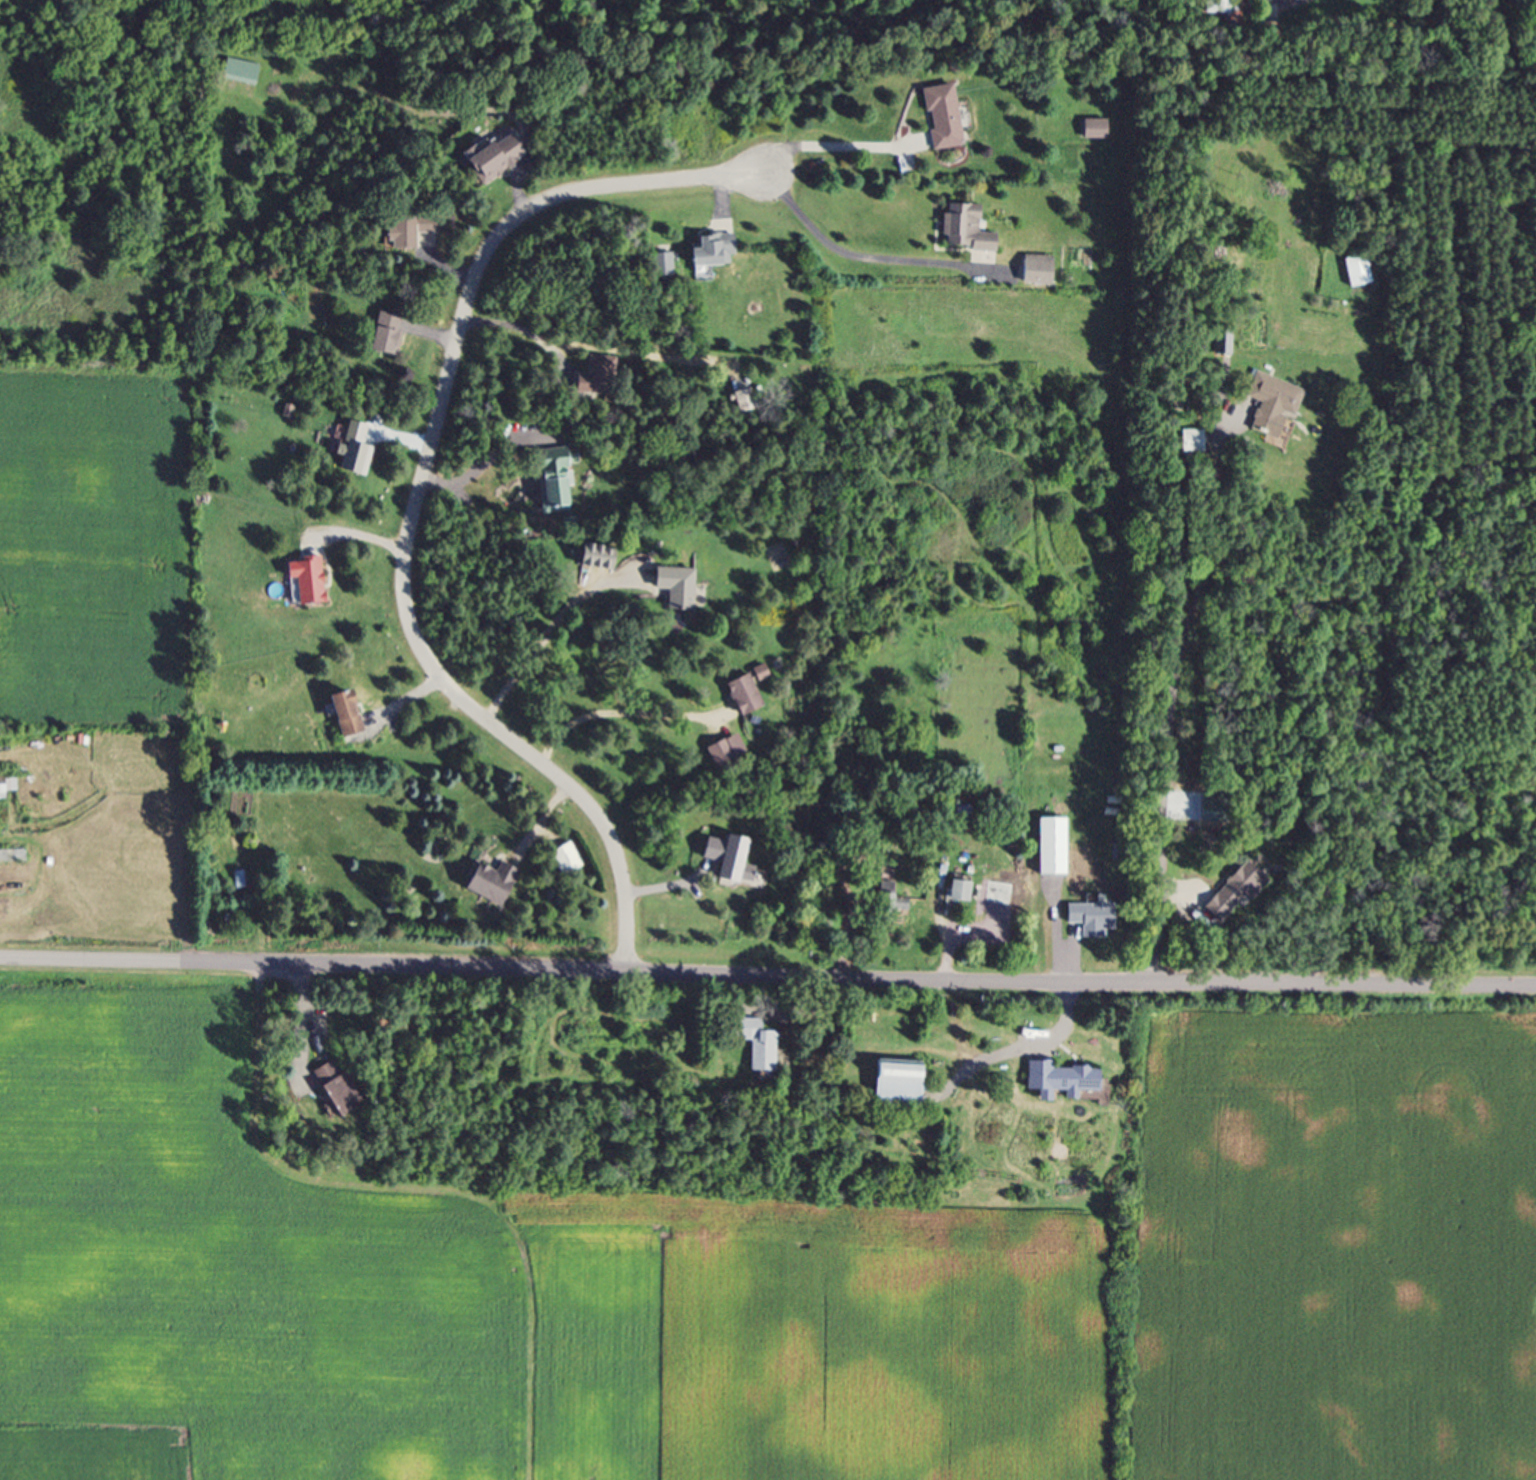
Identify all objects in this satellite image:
building: (1215, 8)
building: (941, 120)
building: (1095, 132)
road: (830, 146)
building: (493, 161)
building: (964, 232)
building: (402, 233)
building: (710, 254)
road: (862, 256)
building: (661, 268)
building: (1034, 272)
building: (1351, 274)
building: (382, 336)
building: (1218, 345)
road: (597, 347)
building: (593, 380)
building: (1266, 407)
building: (1190, 444)
building: (353, 453)
road: (484, 471)
building: (550, 483)
road: (420, 502)
road: (355, 536)
building: (304, 583)
building: (674, 590)
road: (551, 625)
building: (760, 677)
road: (1173, 688)
building: (741, 698)
building: (343, 717)
road: (619, 717)
building: (721, 755)
building: (10, 791)
building: (1052, 850)
building: (568, 863)
building: (727, 866)
building: (240, 882)
building: (491, 885)
building: (958, 892)
building: (1229, 896)
building: (890, 899)
building: (1091, 918)
road: (767, 975)
road: (303, 1020)
building: (753, 1046)
building: (1055, 1084)
building: (891, 1088)
building: (330, 1090)

